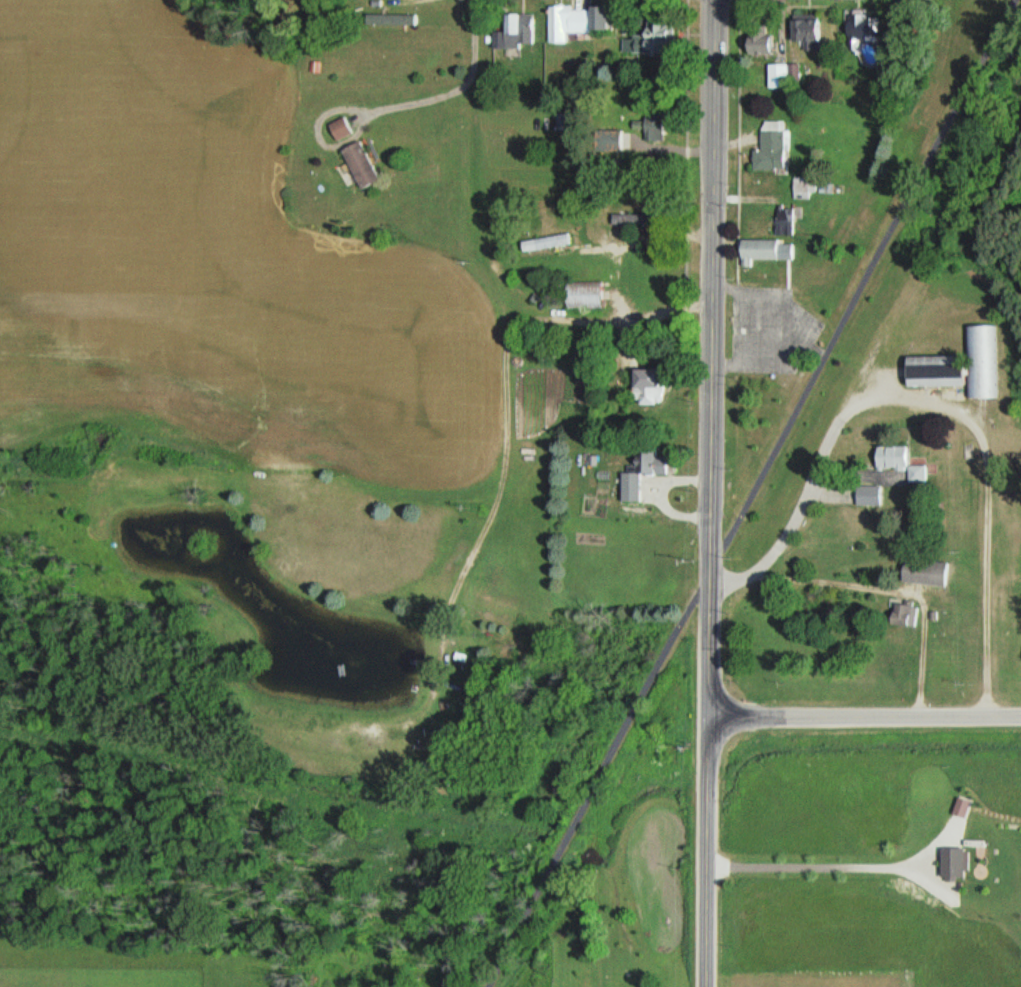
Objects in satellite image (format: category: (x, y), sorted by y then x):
building: (572, 22)
building: (858, 31)
building: (516, 32)
building: (805, 34)
building: (755, 42)
building: (648, 44)
building: (780, 76)
building: (337, 129)
building: (611, 141)
building: (769, 147)
building: (356, 165)
building: (628, 219)
building: (782, 222)
building: (541, 244)
building: (764, 251)
building: (579, 297)
road: (709, 360)
building: (980, 362)
building: (930, 373)
building: (644, 386)
road: (941, 408)
building: (894, 462)
building: (639, 474)
road: (745, 493)
building: (866, 497)
building: (921, 573)
road: (894, 591)
building: (899, 615)
road: (865, 718)
road: (708, 853)
building: (949, 862)

